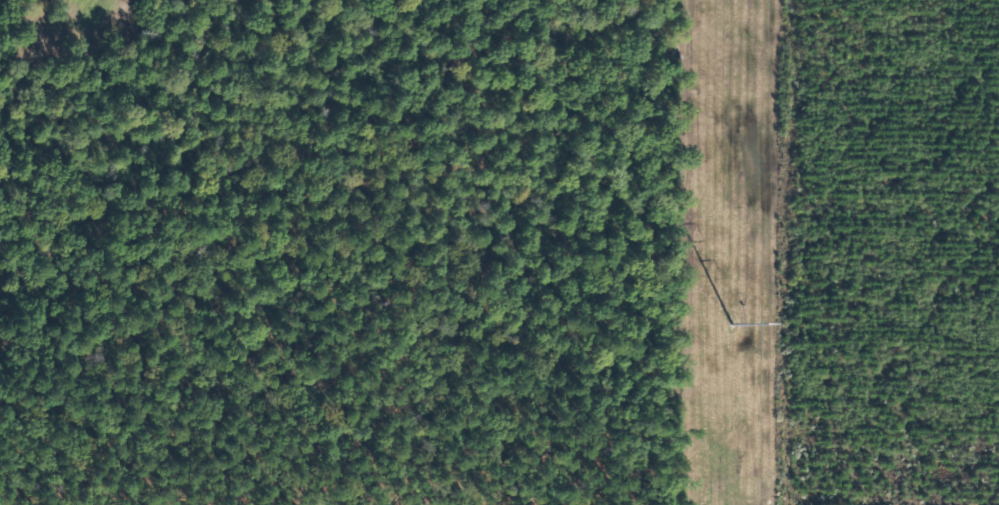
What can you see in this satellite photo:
road: (38, 154)

